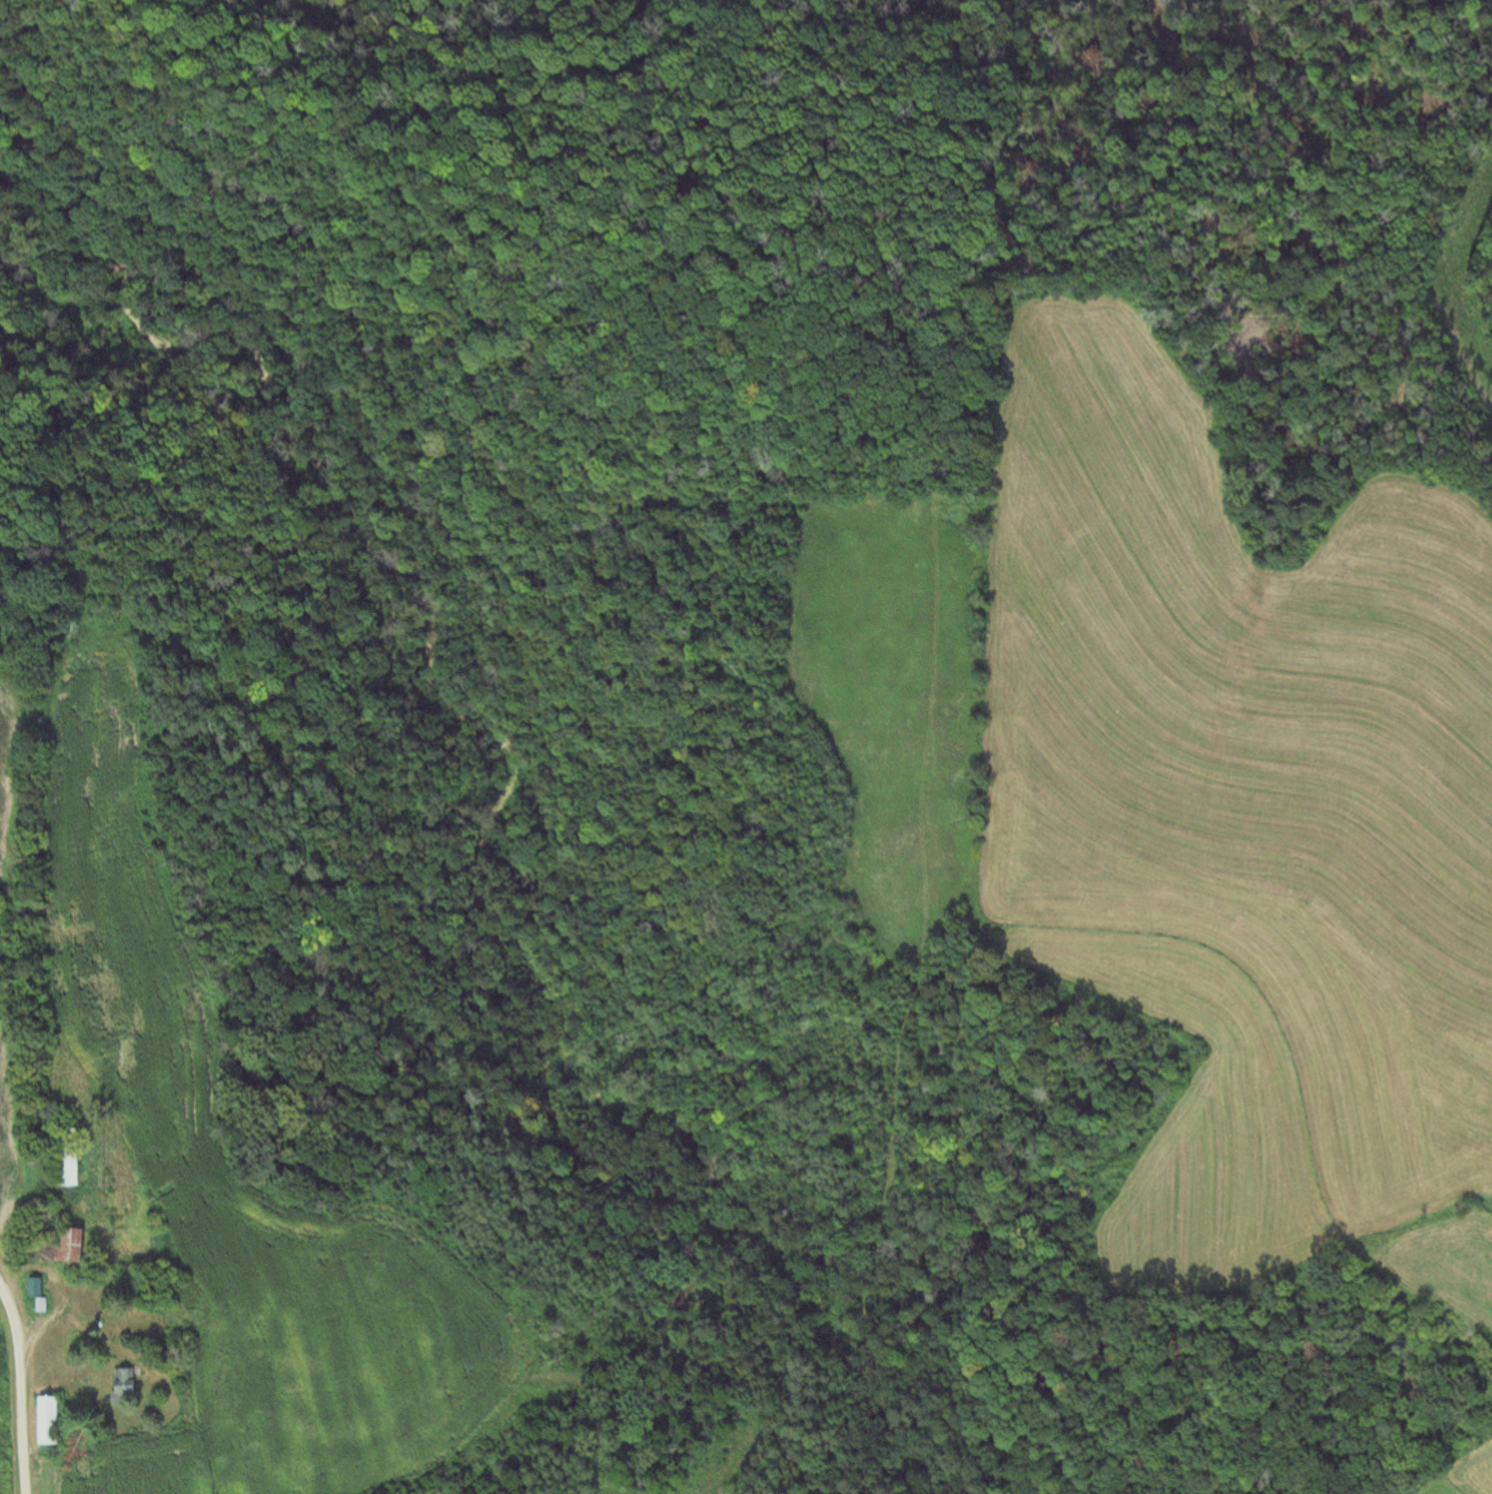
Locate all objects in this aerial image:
building: (69, 1157)
building: (70, 1244)
building: (41, 1293)
road: (18, 1385)
building: (127, 1388)
building: (51, 1422)

